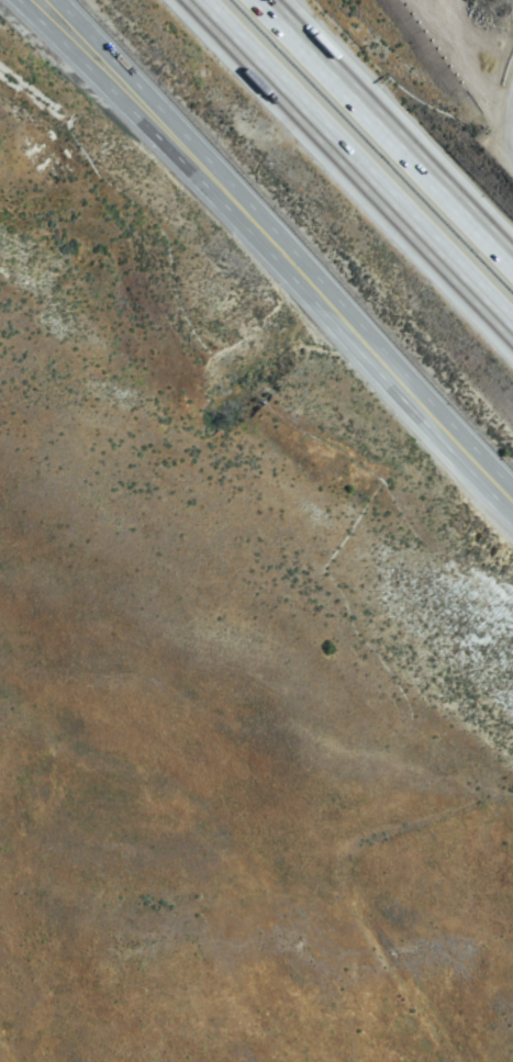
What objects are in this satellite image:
road: (160, 110)
road: (138, 112)
road: (388, 130)
road: (355, 164)
road: (383, 362)

